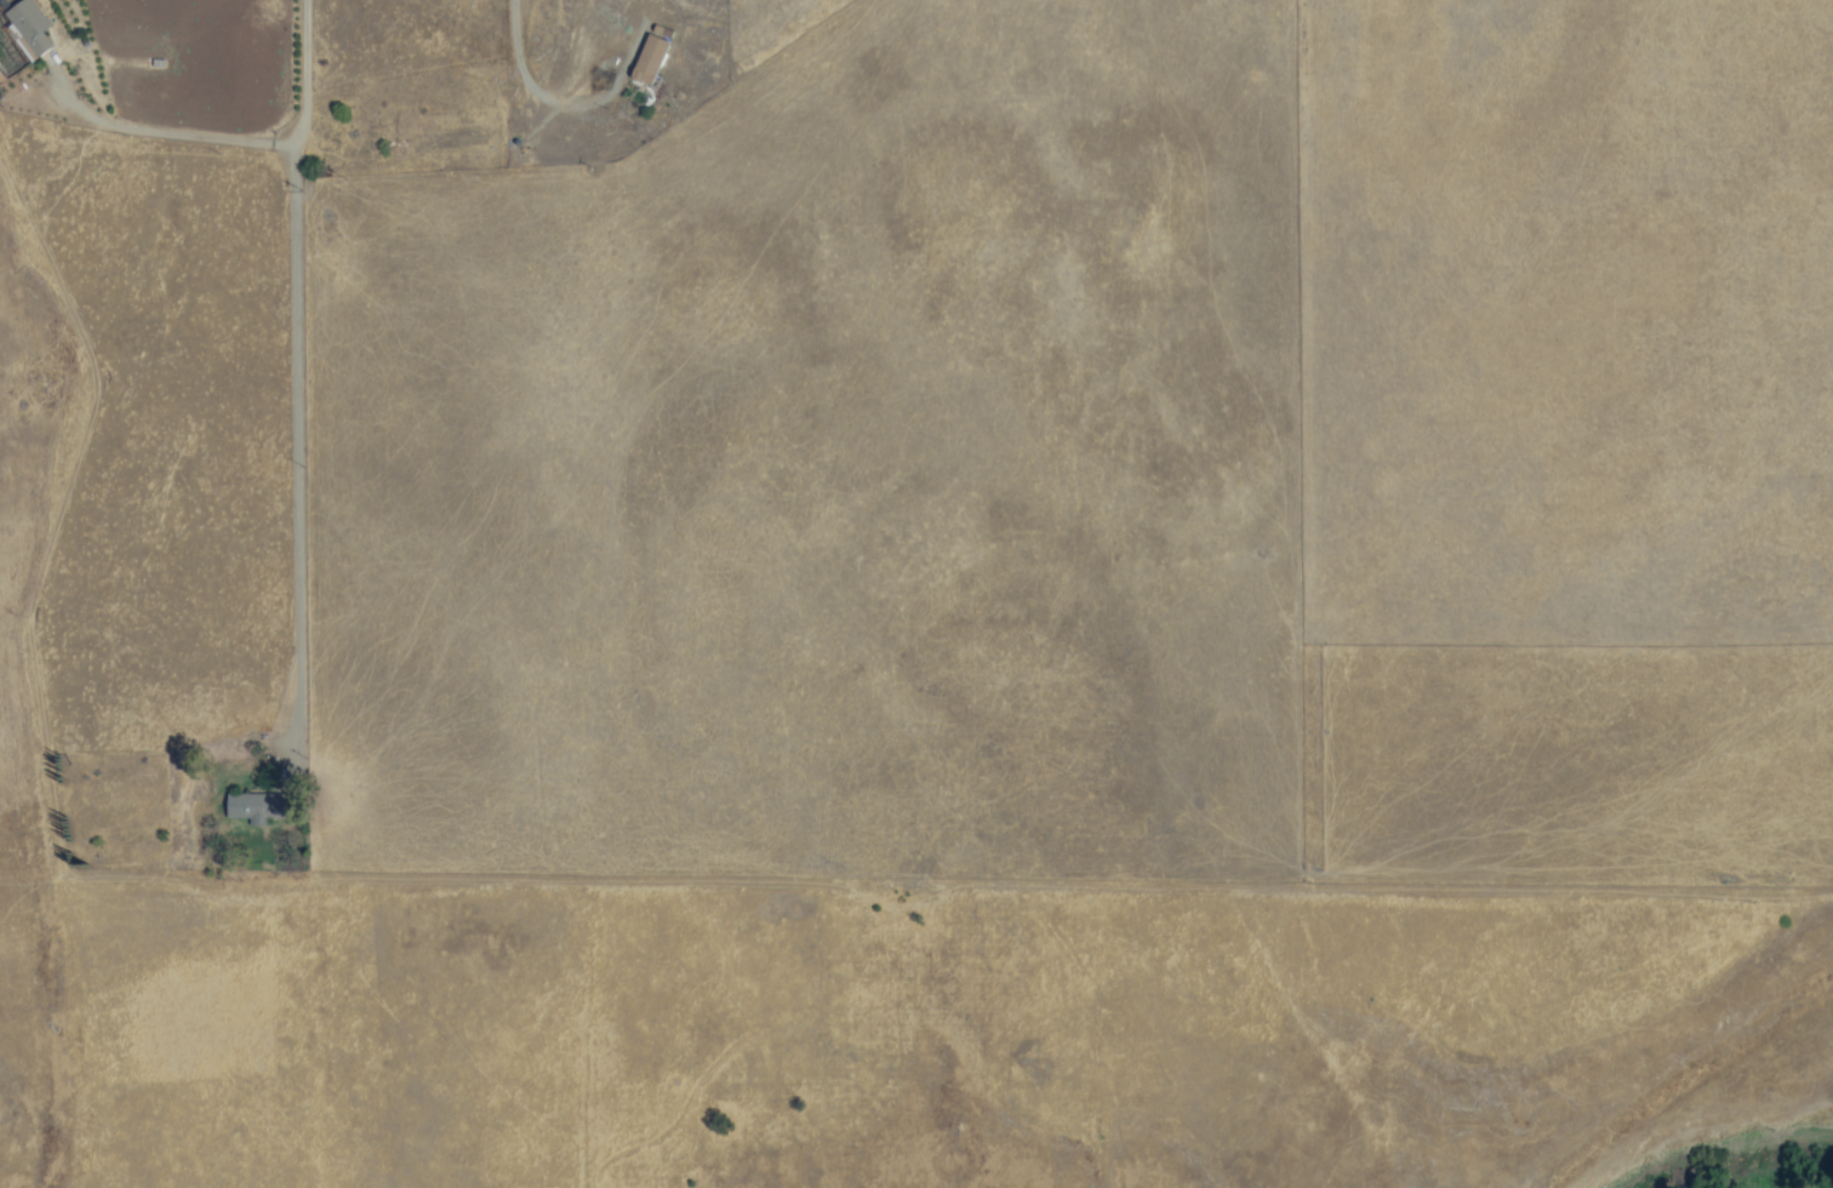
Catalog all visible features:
building: (29, 25)
road: (532, 91)
road: (165, 136)
road: (296, 372)
building: (253, 807)

